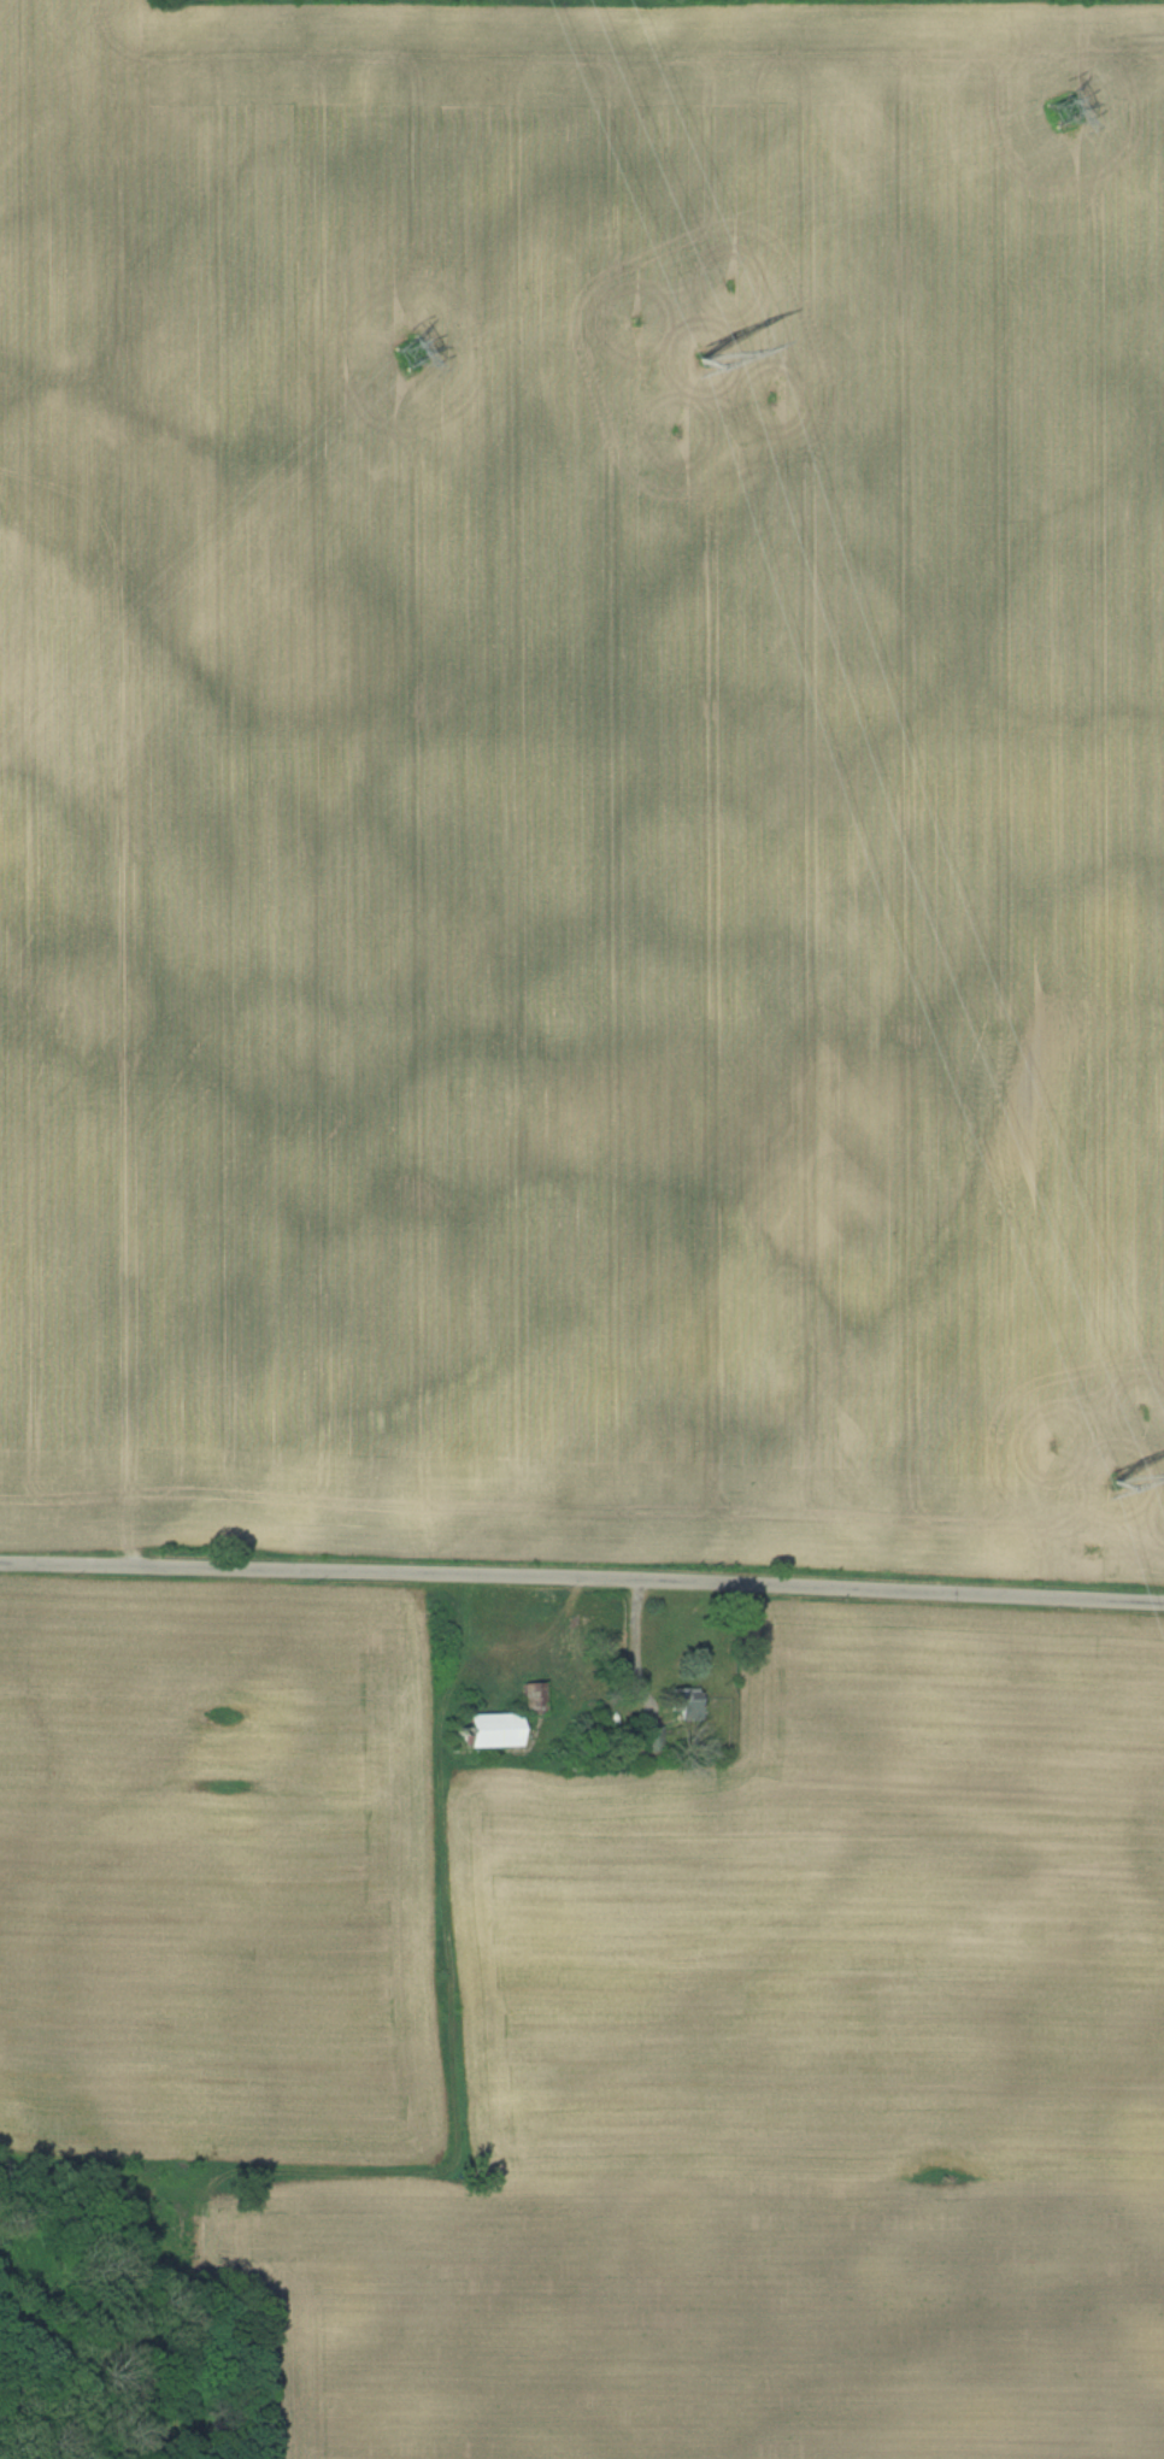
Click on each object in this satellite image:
power tower: (1065, 108)
power tower: (412, 351)
power tower: (696, 360)
power tower: (1115, 1478)
road: (582, 1576)
building: (531, 1698)
building: (682, 1701)
building: (487, 1729)

